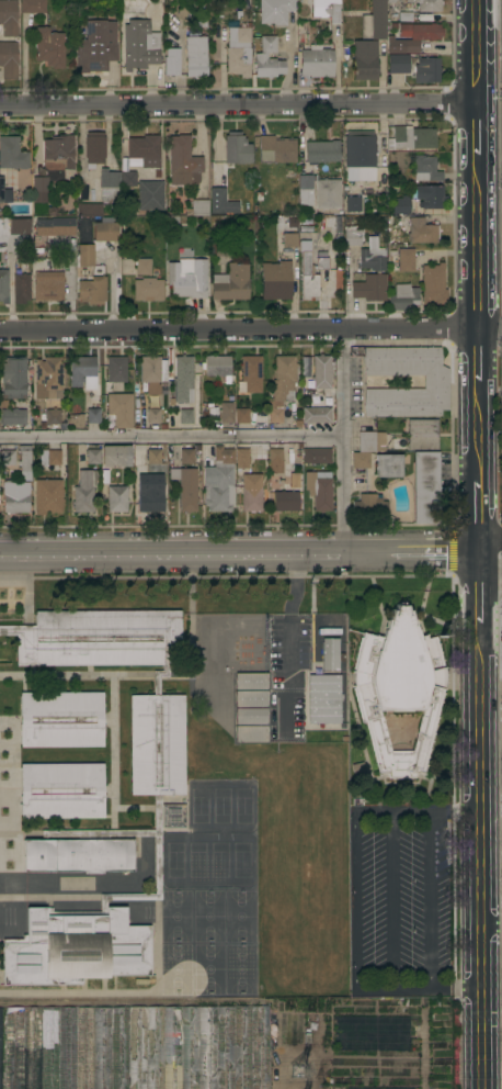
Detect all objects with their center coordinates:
building: (392, 0)
building: (426, 5)
building: (33, 7)
building: (327, 10)
building: (275, 11)
building: (400, 16)
building: (9, 18)
building: (375, 21)
building: (223, 32)
building: (421, 32)
building: (242, 33)
building: (96, 45)
building: (139, 45)
building: (402, 46)
building: (50, 47)
road: (477, 53)
building: (195, 57)
building: (9, 59)
building: (269, 59)
building: (365, 59)
building: (238, 61)
building: (317, 61)
building: (398, 64)
building: (171, 65)
building: (426, 70)
road: (285, 74)
road: (239, 106)
building: (411, 138)
road: (478, 143)
building: (237, 148)
building: (145, 149)
building: (276, 149)
building: (360, 149)
building: (12, 154)
building: (55, 161)
building: (183, 161)
building: (305, 169)
building: (425, 169)
building: (103, 173)
building: (360, 173)
building: (127, 180)
building: (1, 189)
building: (327, 193)
building: (150, 195)
building: (430, 195)
building: (36, 199)
building: (221, 202)
building: (353, 203)
building: (401, 206)
building: (198, 207)
building: (334, 224)
building: (50, 226)
building: (110, 231)
building: (422, 231)
building: (352, 237)
building: (36, 239)
building: (289, 239)
building: (13, 248)
building: (220, 248)
building: (85, 255)
road: (478, 256)
building: (322, 258)
building: (406, 259)
building: (53, 267)
building: (144, 267)
building: (377, 269)
building: (187, 278)
building: (308, 279)
building: (275, 281)
building: (231, 283)
building: (433, 284)
building: (3, 285)
building: (21, 287)
building: (46, 289)
building: (148, 289)
building: (92, 291)
building: (403, 297)
road: (239, 329)
road: (490, 337)
road: (479, 362)
building: (218, 368)
building: (82, 370)
building: (305, 370)
building: (321, 371)
building: (152, 372)
building: (115, 373)
building: (250, 374)
building: (13, 378)
building: (48, 378)
building: (183, 379)
building: (436, 382)
building: (282, 386)
building: (164, 390)
building: (119, 409)
building: (38, 411)
building: (227, 413)
building: (242, 415)
building: (316, 415)
building: (13, 416)
building: (53, 416)
building: (93, 416)
building: (153, 416)
building: (186, 416)
road: (479, 430)
road: (172, 434)
building: (423, 435)
road: (343, 440)
building: (367, 448)
building: (224, 454)
building: (116, 456)
building: (317, 456)
building: (93, 457)
building: (153, 457)
building: (186, 457)
building: (8, 458)
building: (242, 459)
building: (24, 460)
building: (54, 460)
building: (388, 465)
building: (276, 467)
building: (142, 474)
building: (185, 487)
building: (218, 487)
building: (425, 487)
building: (84, 491)
building: (319, 492)
building: (252, 493)
building: (48, 496)
building: (150, 497)
building: (117, 498)
building: (15, 502)
building: (285, 502)
road: (479, 504)
building: (369, 506)
road: (490, 539)
road: (479, 547)
road: (240, 551)
road: (491, 573)
road: (480, 591)
building: (324, 626)
road: (288, 639)
building: (272, 644)
building: (329, 654)
building: (215, 670)
parking lot: (288, 670)
building: (251, 681)
building: (400, 689)
building: (251, 698)
building: (324, 699)
building: (251, 716)
building: (60, 719)
building: (251, 733)
building: (61, 790)
park: (223, 806)
road: (418, 810)
building: (158, 812)
road: (480, 858)
park: (209, 861)
parking lot: (400, 898)
road: (433, 898)
road: (357, 899)
road: (392, 899)
road: (491, 921)
park: (209, 943)
road: (419, 986)
building: (369, 1034)
building: (0, 1044)
building: (137, 1047)
power tower: (306, 1071)
building: (376, 1088)

